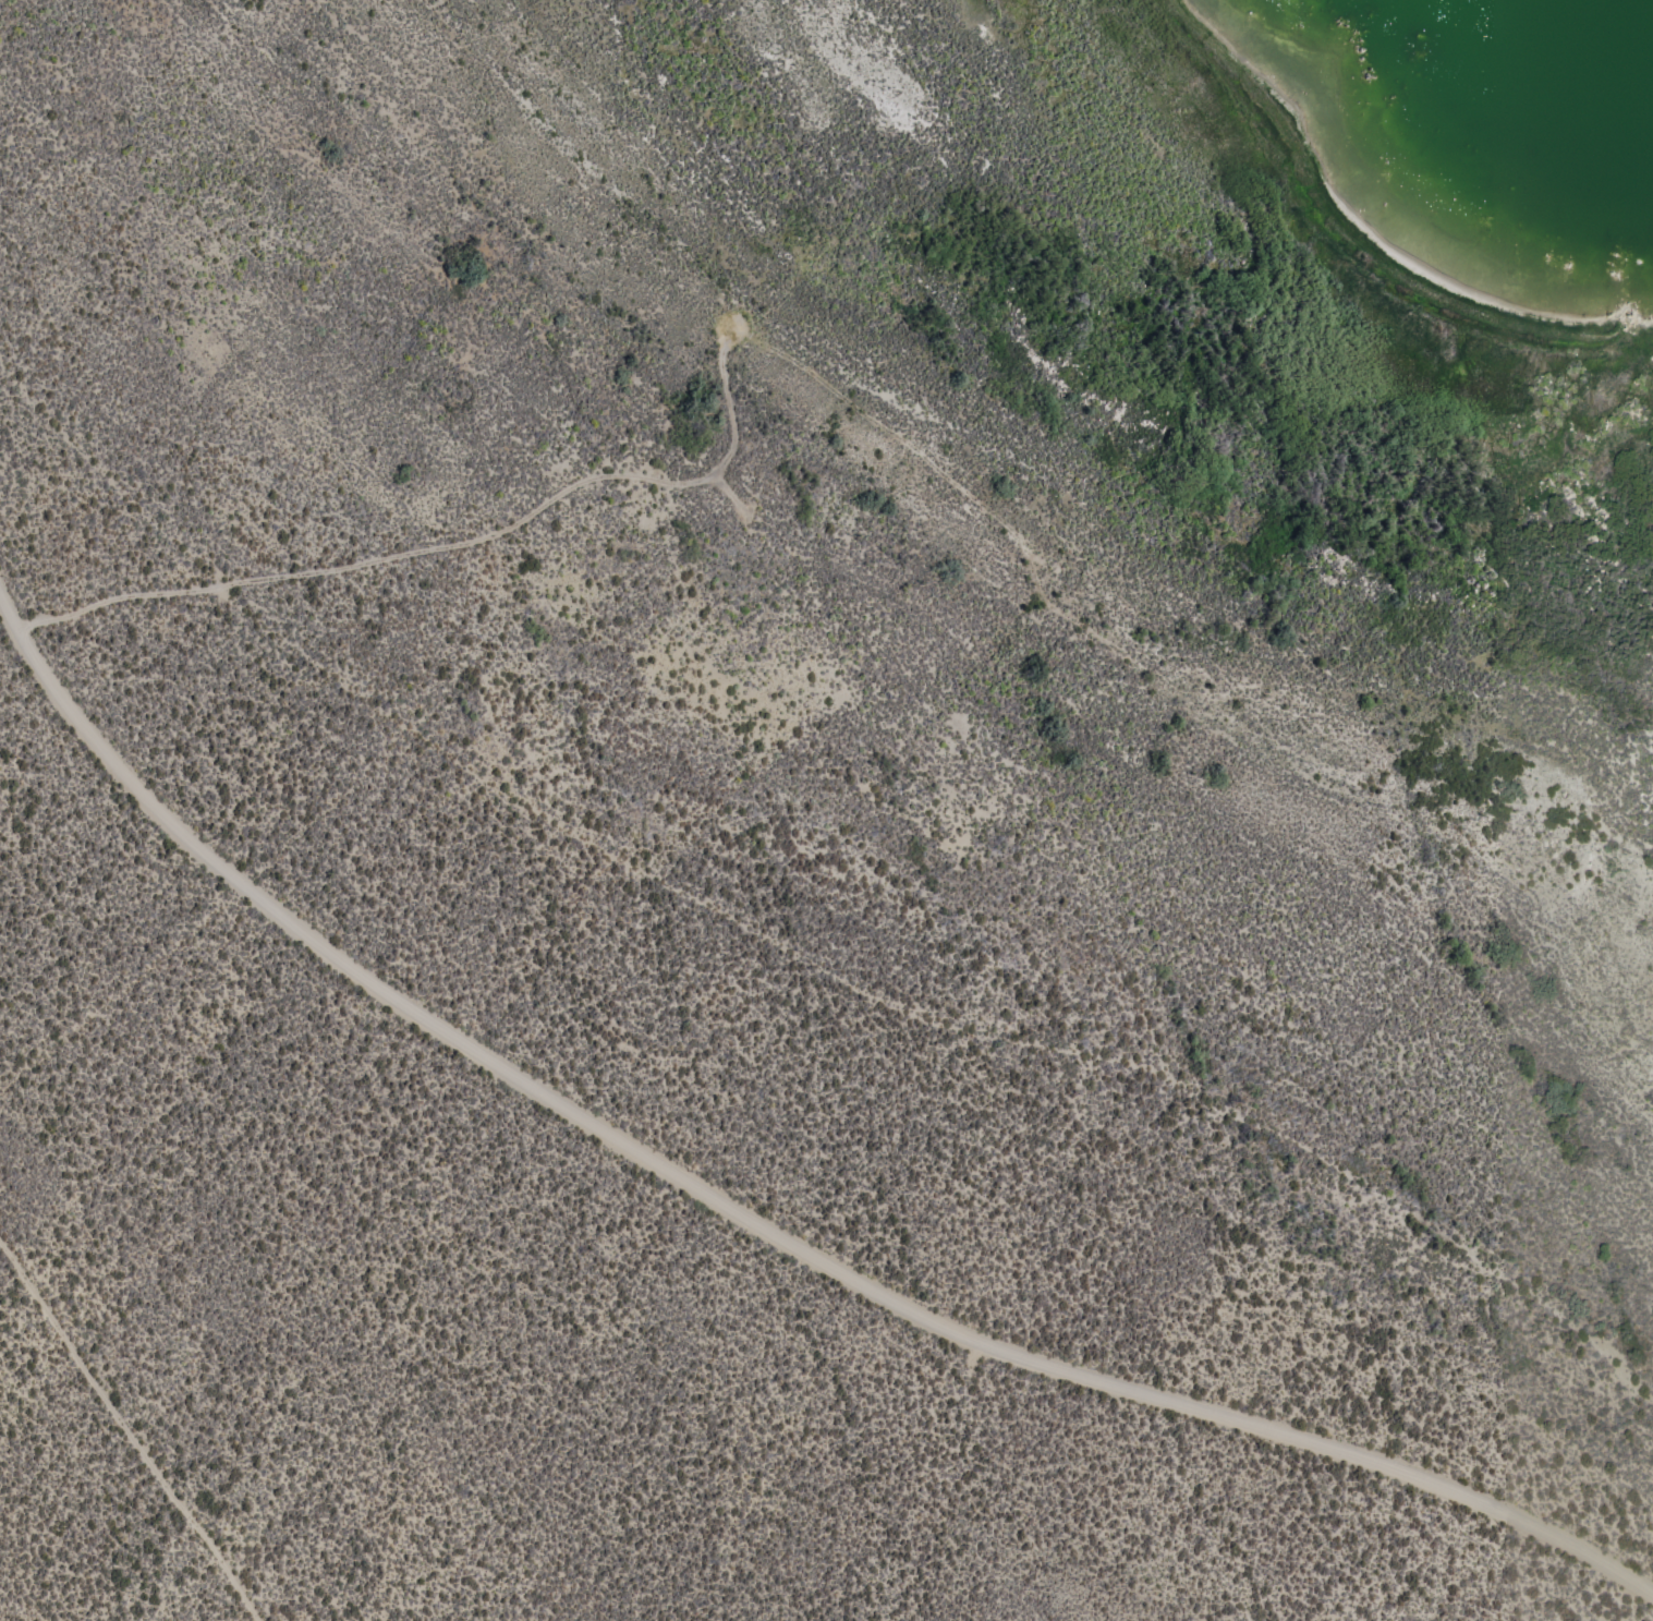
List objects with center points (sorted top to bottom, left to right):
road: (748, 1226)
road: (127, 1436)

